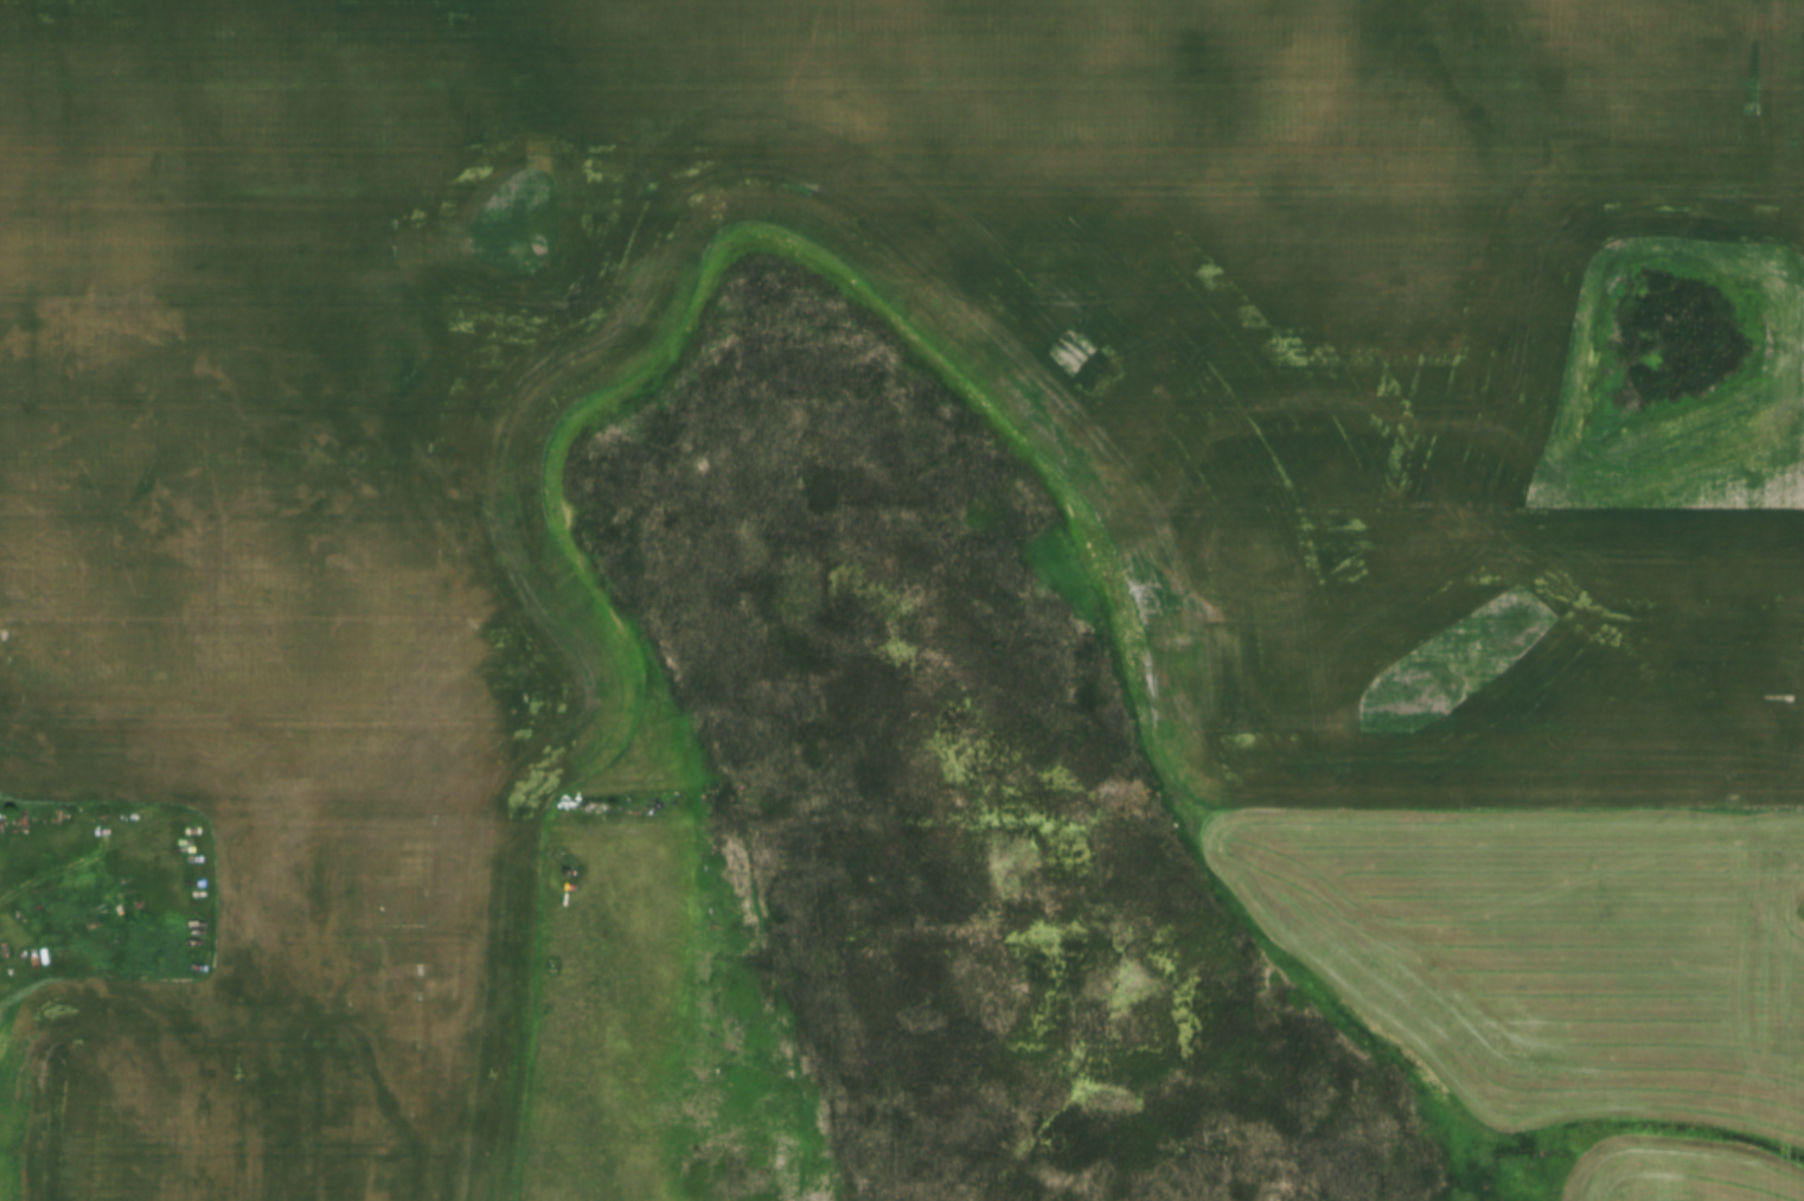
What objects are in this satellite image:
road: (52, 869)

